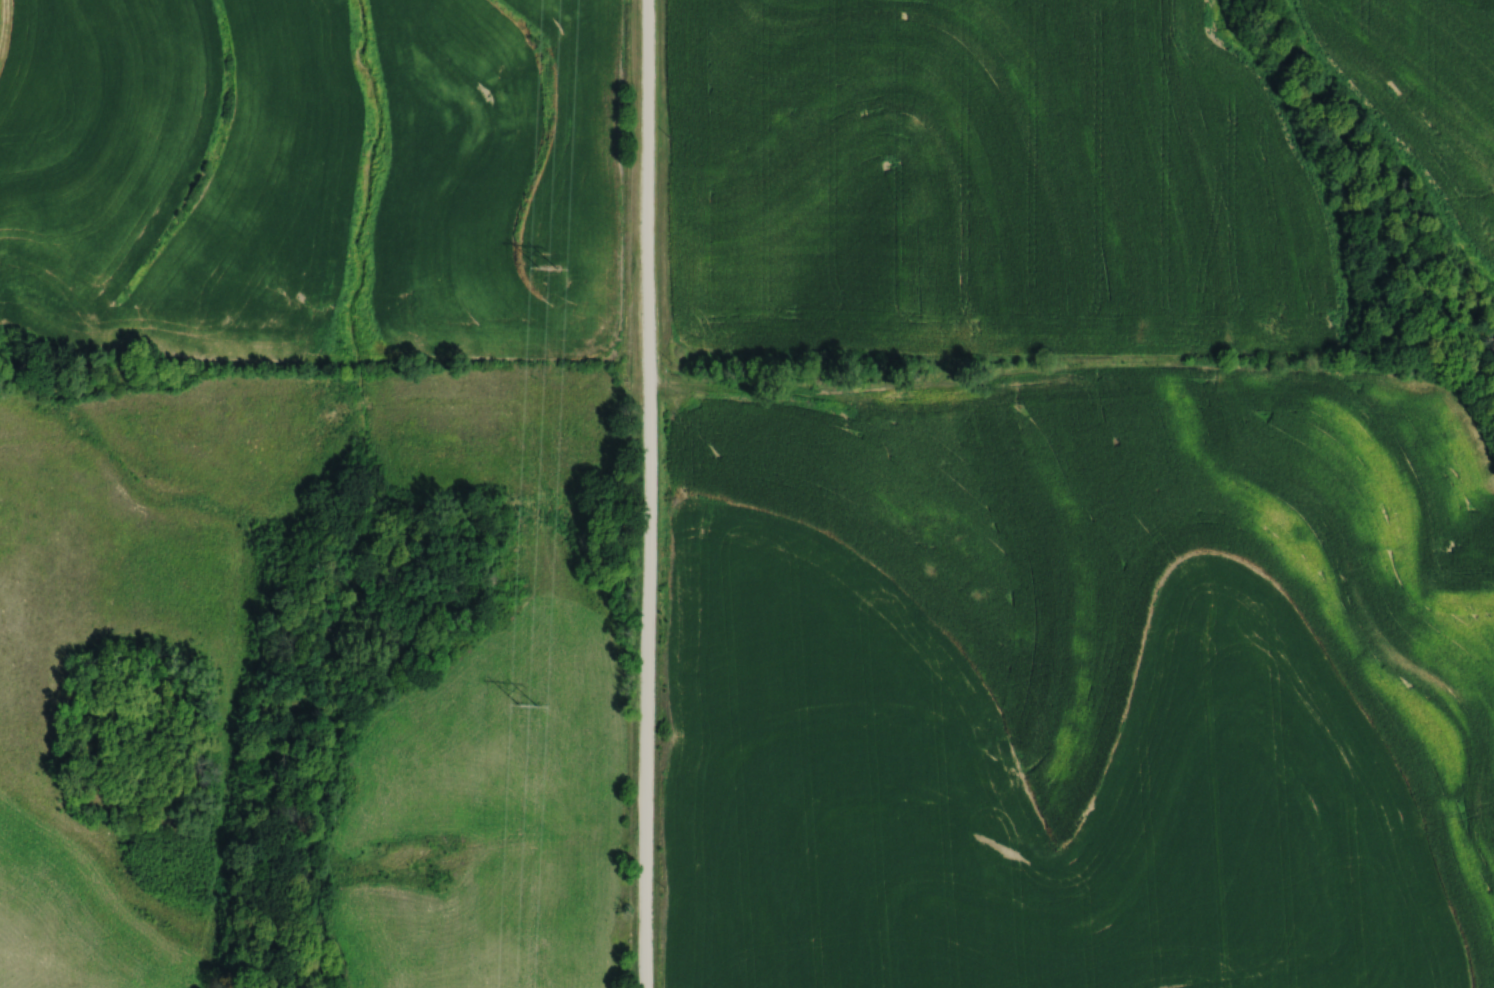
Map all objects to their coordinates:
power tower: (544, 268)
road: (648, 494)
power tower: (527, 700)

